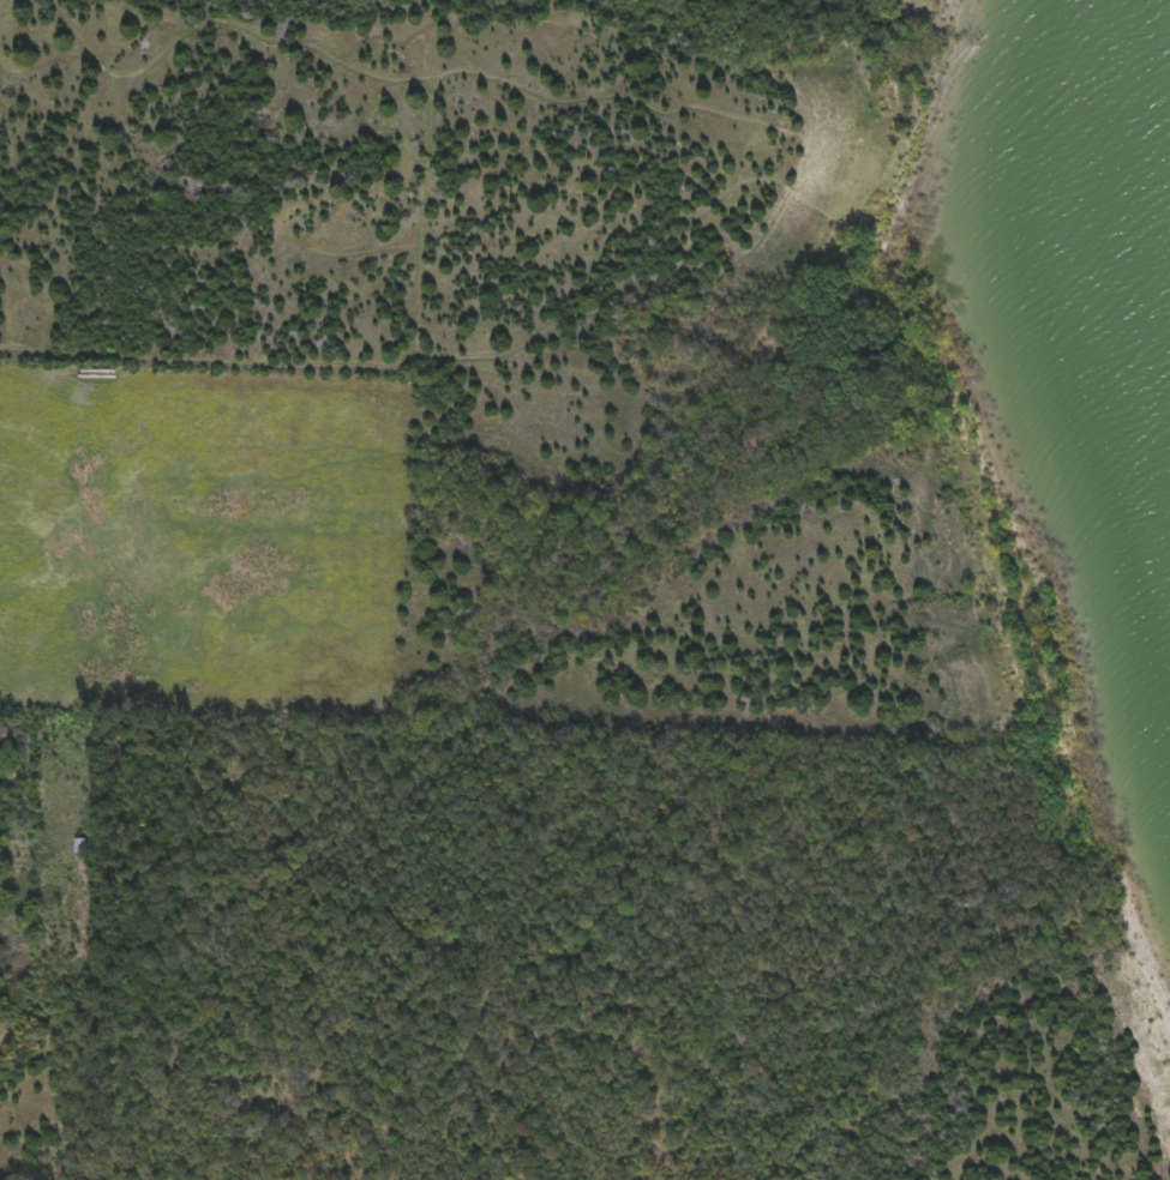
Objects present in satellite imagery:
building: (1, 788)

